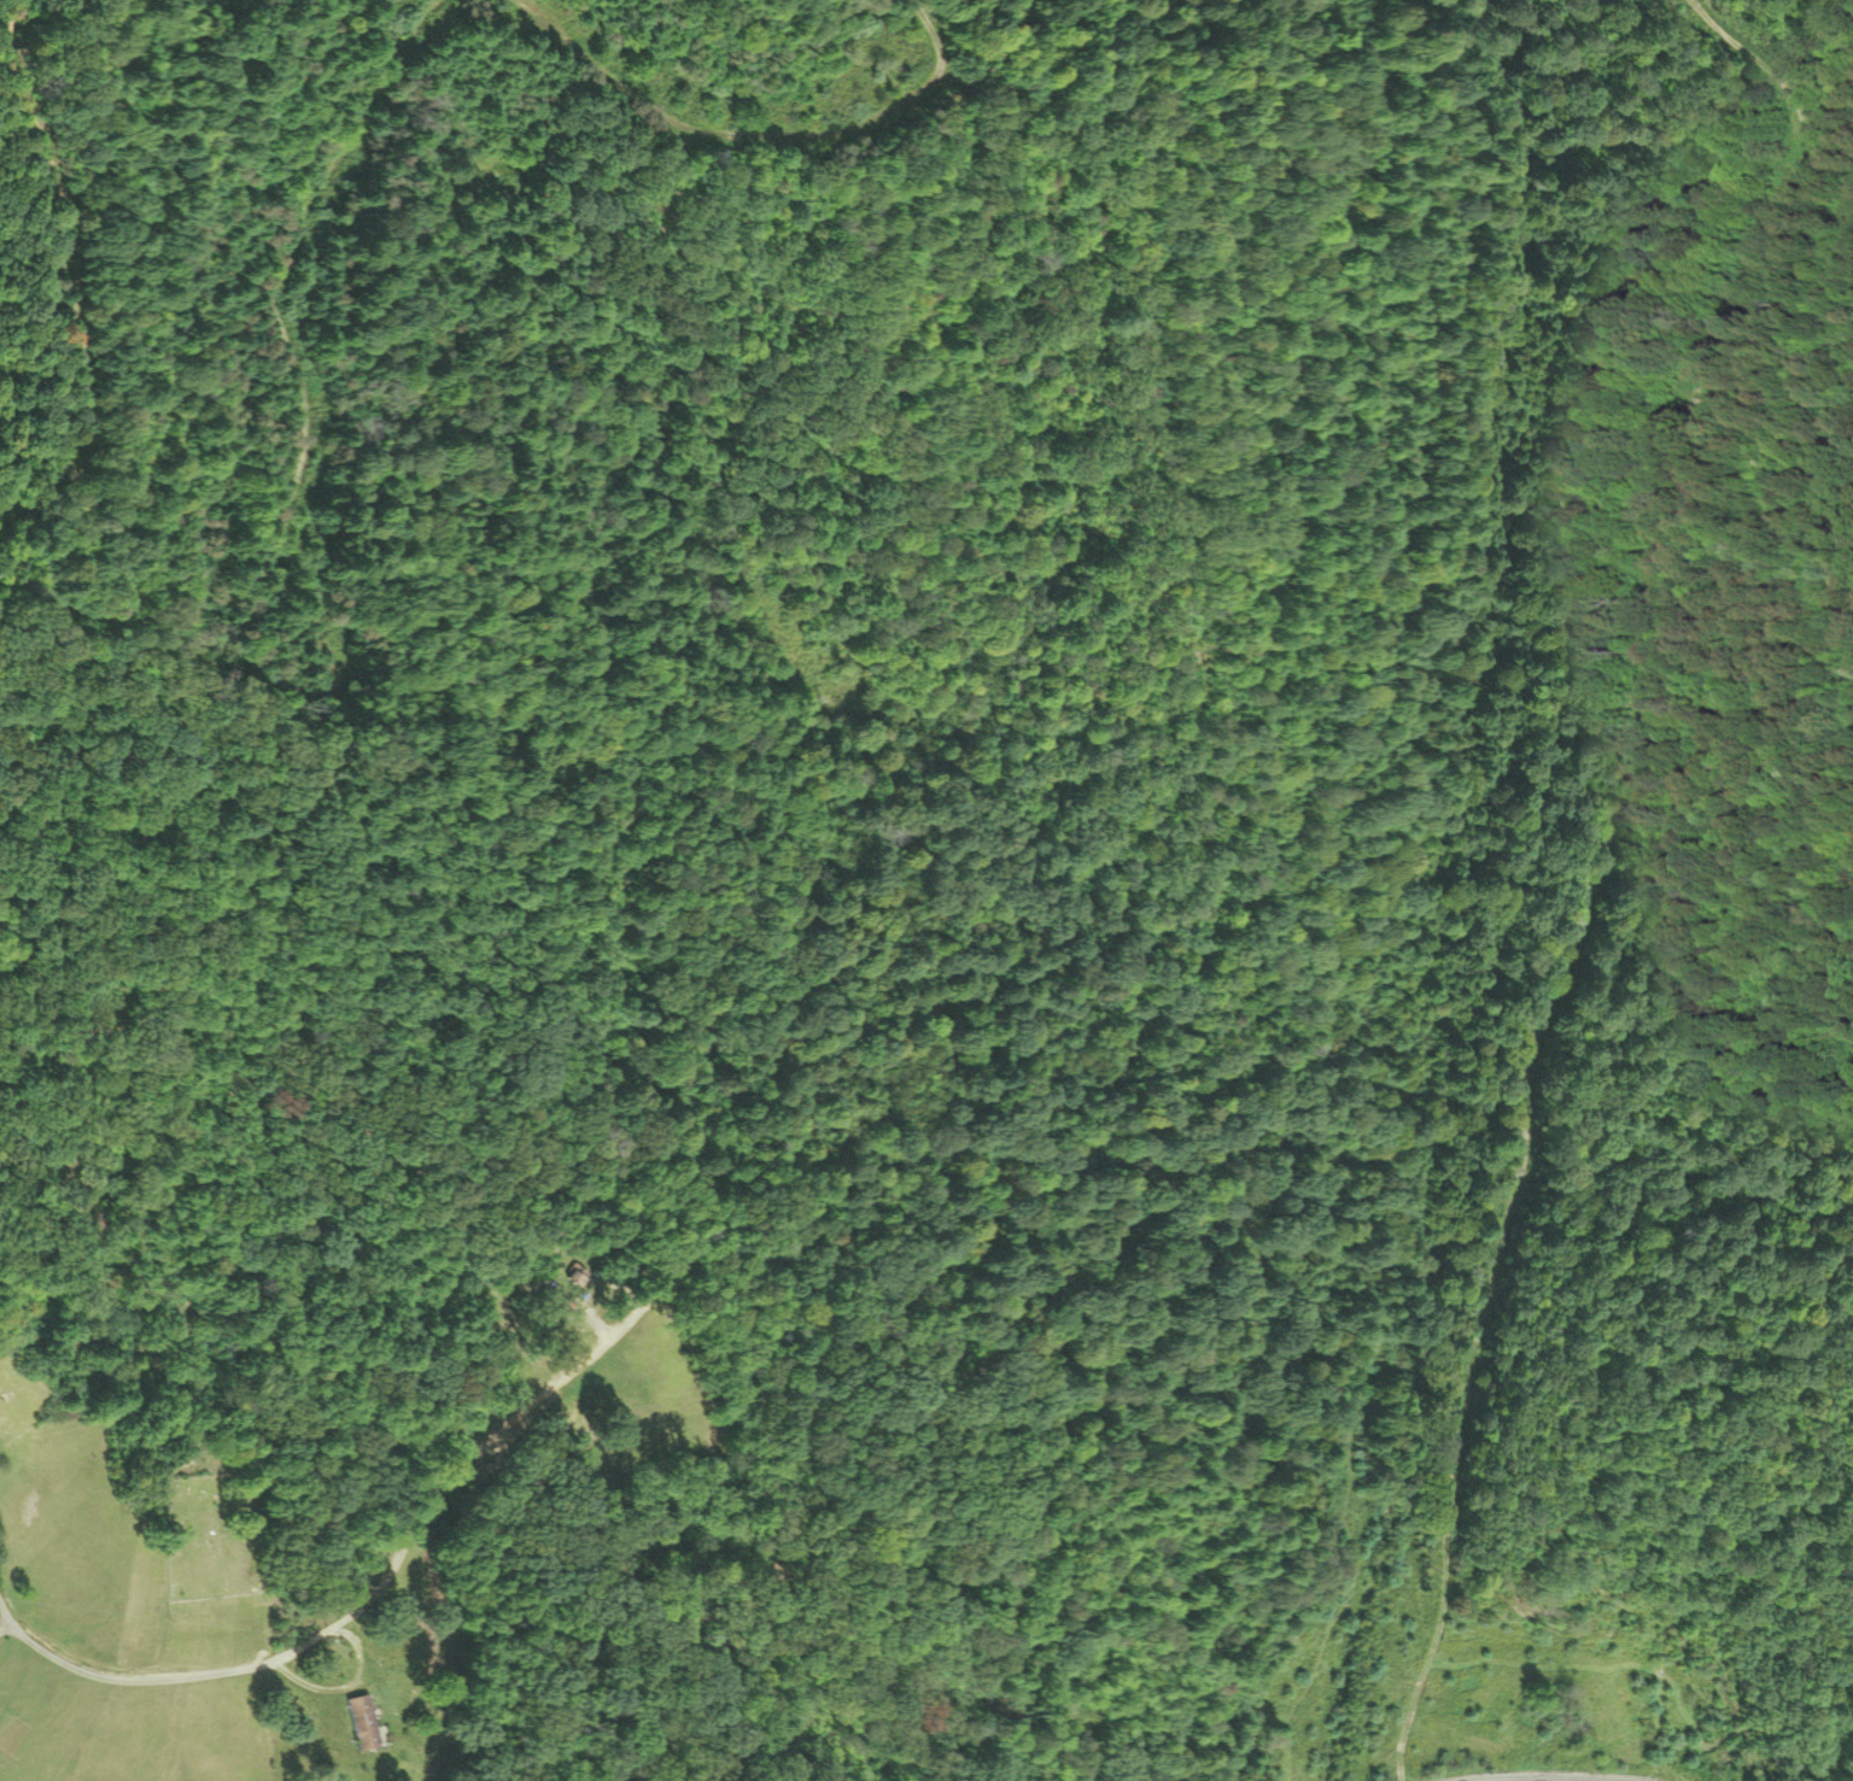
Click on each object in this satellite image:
road: (361, 1605)
building: (366, 1724)
railway: (1536, 1780)

